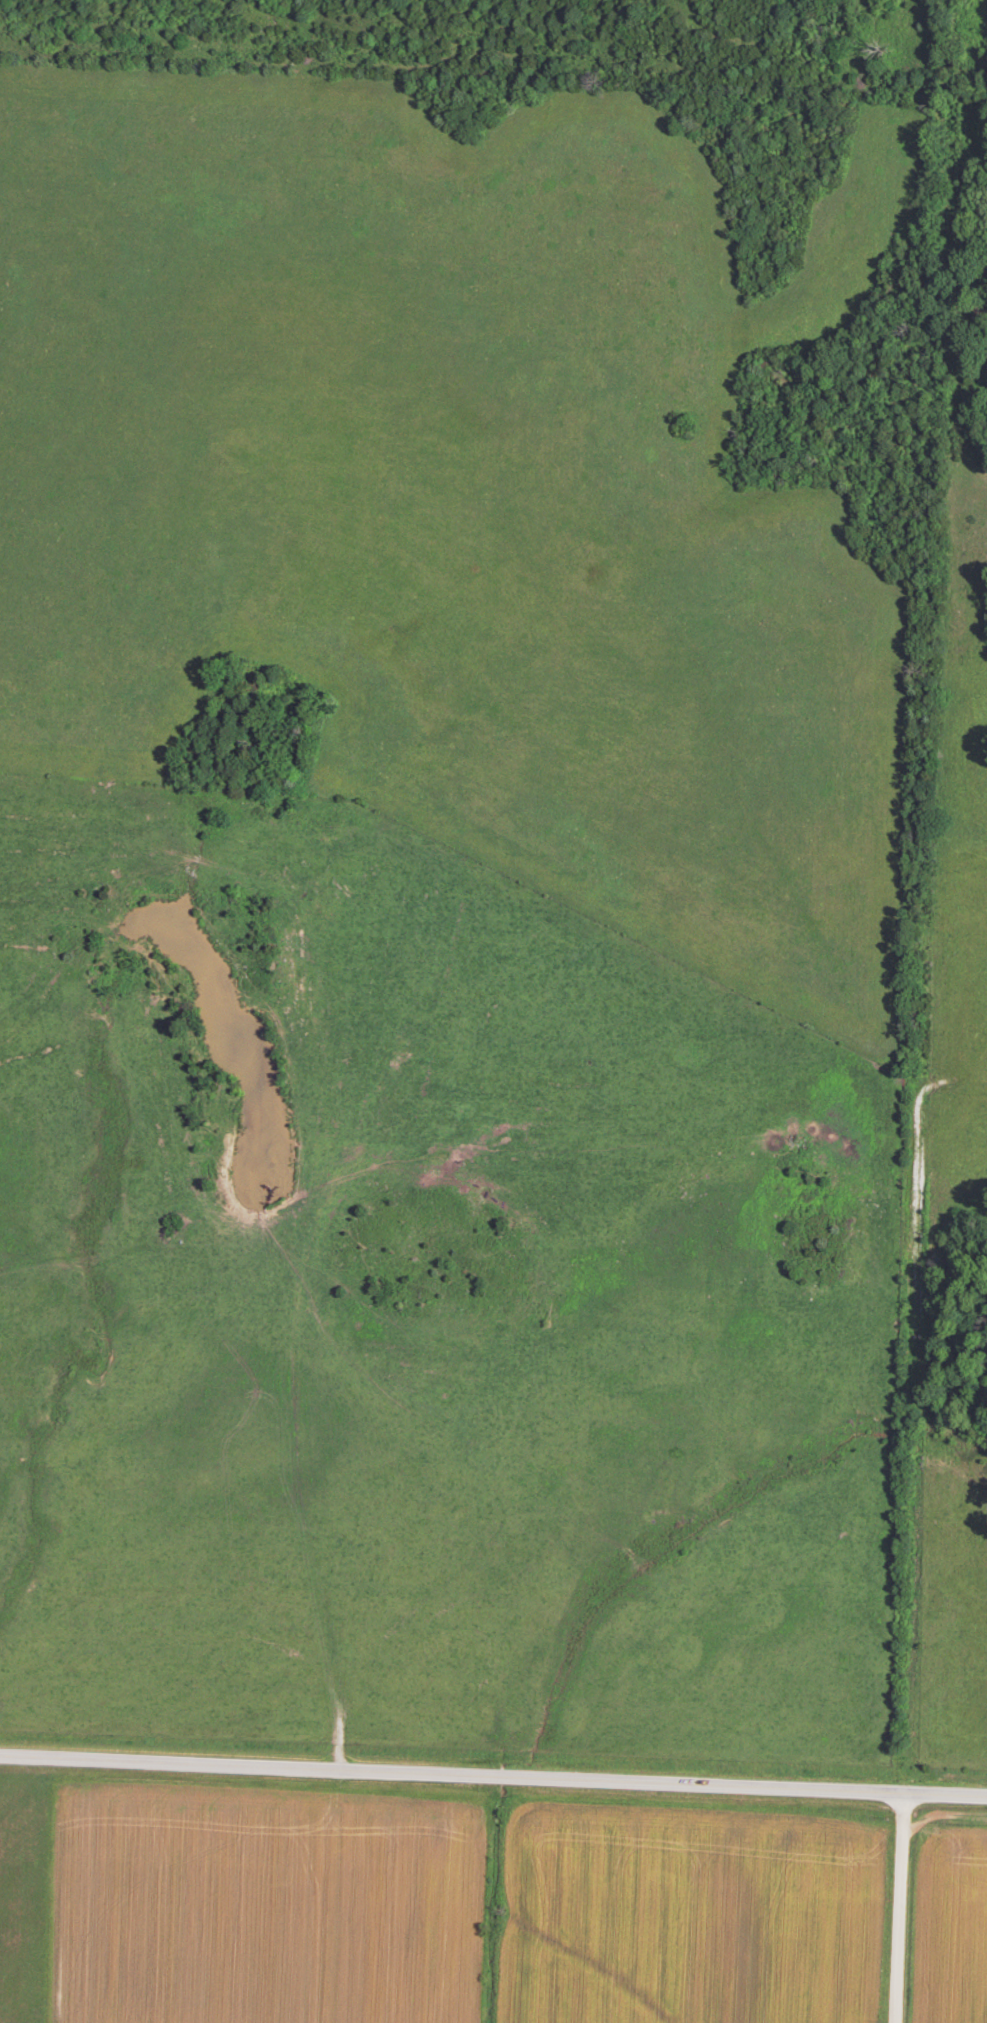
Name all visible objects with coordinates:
road: (493, 1778)
road: (900, 1909)

